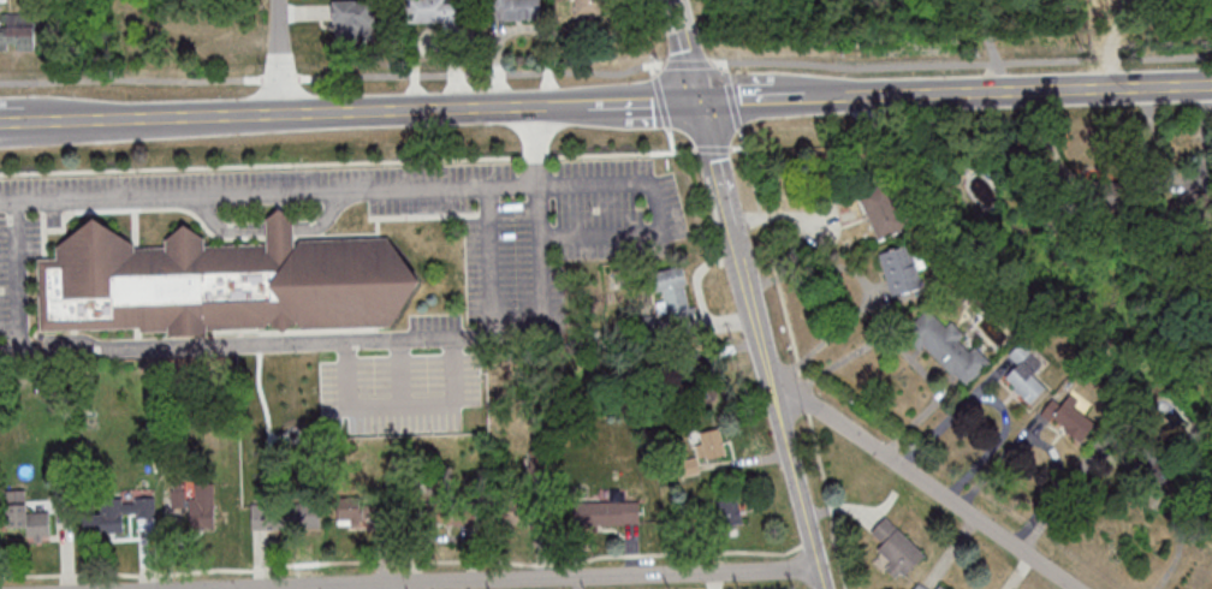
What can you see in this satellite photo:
building: (587, 7)
building: (515, 8)
building: (438, 12)
building: (355, 19)
building: (18, 32)
road: (991, 43)
road: (689, 48)
road: (279, 55)
road: (606, 71)
road: (1039, 84)
road: (852, 90)
road: (768, 94)
traffic signals: (702, 99)
road: (637, 100)
road: (428, 106)
road: (141, 114)
building: (1141, 174)
road: (252, 189)
road: (721, 191)
road: (655, 198)
building: (884, 210)
road: (327, 214)
road: (216, 225)
road: (280, 227)
road: (18, 263)
building: (901, 269)
building: (222, 281)
road: (866, 288)
building: (673, 296)
road: (489, 304)
road: (754, 331)
road: (245, 340)
building: (947, 346)
road: (899, 349)
building: (1026, 374)
road: (770, 385)
building: (708, 397)
road: (774, 399)
road: (993, 400)
building: (1076, 417)
road: (832, 418)
building: (711, 444)
road: (1045, 446)
road: (891, 459)
building: (536, 460)
building: (1159, 462)
road: (801, 496)
building: (198, 502)
building: (451, 506)
building: (350, 511)
building: (730, 511)
building: (606, 512)
building: (118, 513)
building: (296, 514)
building: (28, 517)
road: (990, 526)
building: (897, 548)
road: (522, 579)
building: (920, 587)
building: (938, 587)

